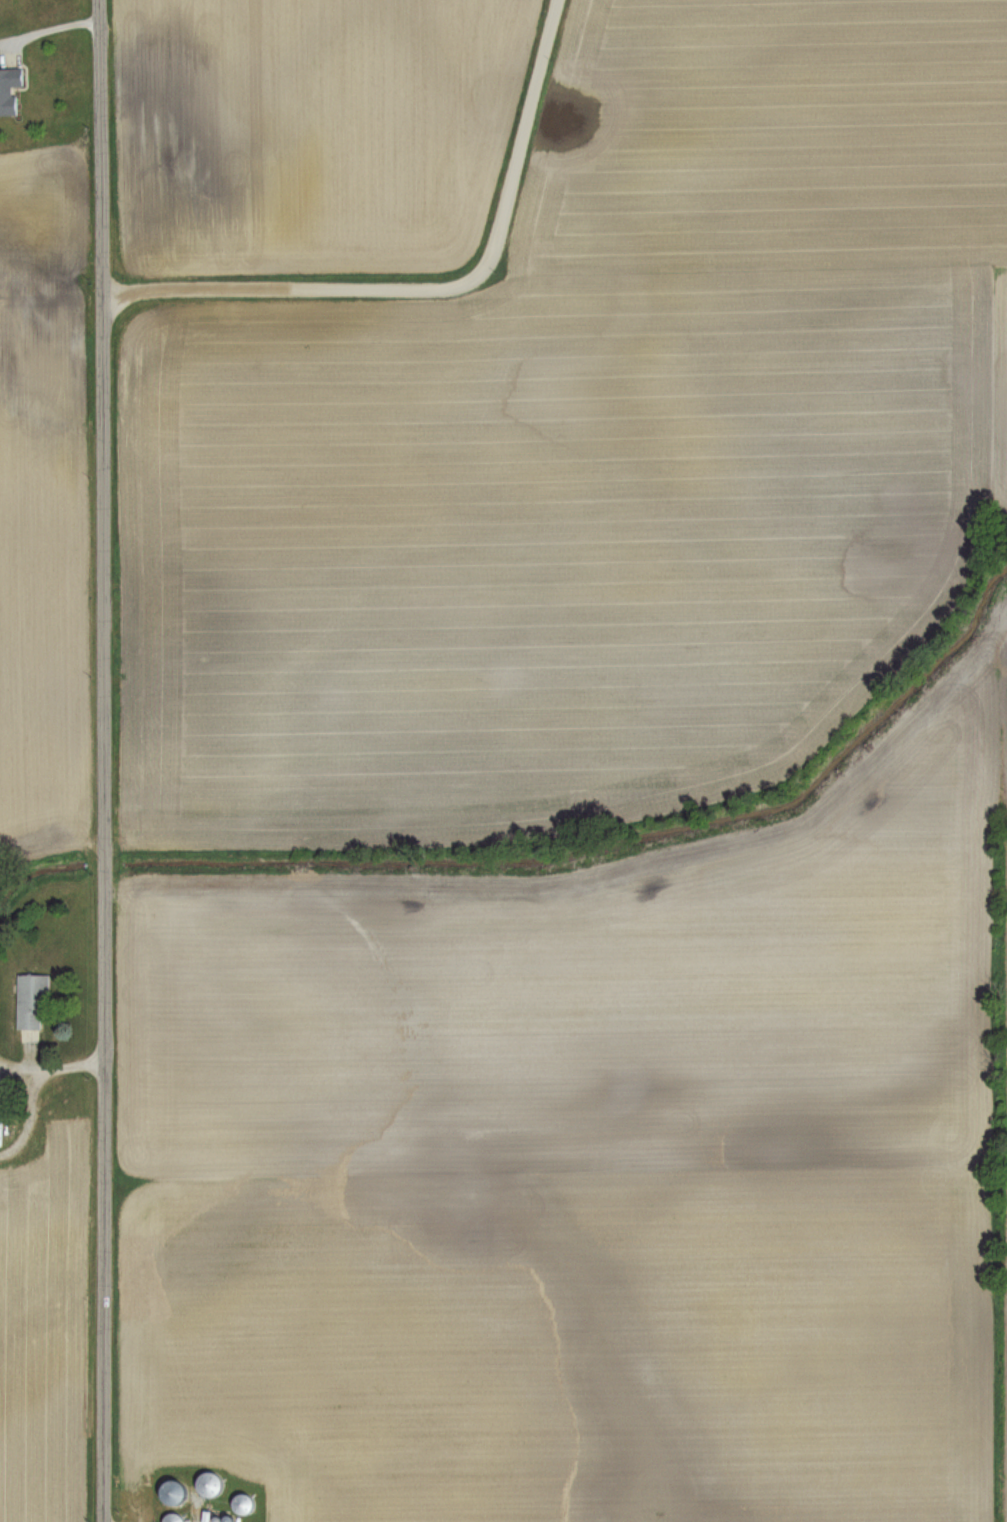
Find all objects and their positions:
road: (37, 31)
building: (8, 89)
road: (431, 288)
road: (99, 761)
building: (30, 1002)
road: (50, 1071)
building: (207, 1483)
building: (170, 1490)
building: (240, 1503)
building: (171, 1518)

